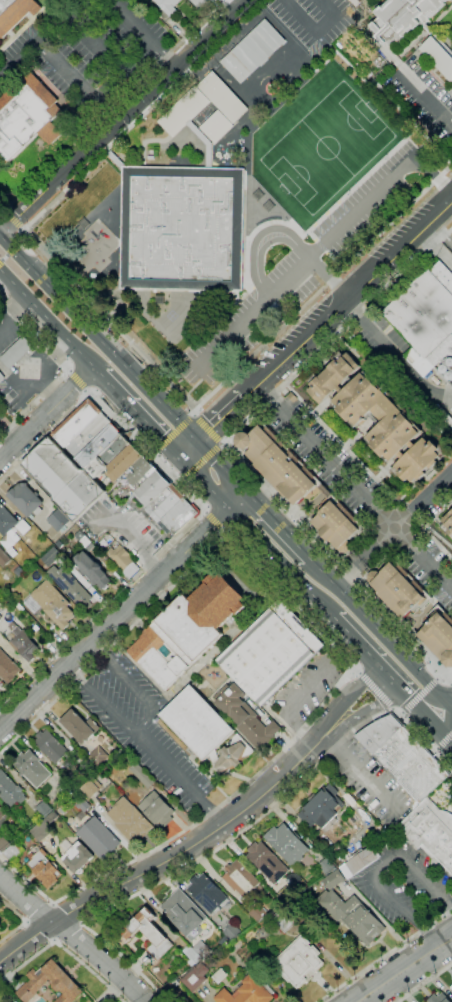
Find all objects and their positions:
building: (360, 0)
building: (201, 3)
building: (167, 6)
building: (15, 13)
street lamp: (306, 13)
street lamp: (275, 15)
building: (401, 18)
parking lot: (312, 21)
road: (316, 31)
road: (141, 34)
road: (42, 39)
road: (98, 43)
road: (314, 46)
parking lot: (86, 49)
street lamp: (307, 49)
building: (252, 51)
building: (438, 54)
road: (123, 74)
road: (360, 76)
road: (136, 82)
road: (76, 83)
building: (450, 92)
road: (425, 97)
building: (203, 104)
road: (112, 107)
road: (122, 116)
building: (27, 117)
building: (216, 127)
road: (145, 141)
road: (206, 141)
building: (208, 144)
road: (433, 145)
park: (326, 147)
street lamp: (385, 157)
road: (114, 158)
building: (116, 160)
road: (432, 176)
street lamp: (348, 193)
road: (360, 206)
street lamp: (285, 220)
road: (13, 221)
building: (182, 229)
road: (439, 231)
road: (304, 233)
road: (310, 237)
road: (22, 240)
road: (261, 240)
road: (320, 246)
street lamp: (270, 247)
road: (12, 249)
road: (4, 257)
road: (0, 260)
road: (333, 261)
street lamp: (266, 270)
road: (1, 272)
street lamp: (314, 274)
road: (346, 296)
road: (263, 299)
park: (171, 315)
building: (425, 318)
road: (50, 323)
road: (113, 325)
parking lot: (294, 328)
road: (375, 335)
road: (96, 339)
road: (129, 345)
building: (16, 352)
gas station: (16, 352)
road: (208, 358)
road: (238, 363)
road: (67, 368)
building: (1, 378)
road: (76, 384)
building: (292, 397)
road: (191, 411)
road: (46, 414)
road: (140, 416)
building: (376, 416)
road: (218, 418)
road: (119, 421)
building: (441, 421)
building: (77, 422)
road: (206, 429)
road: (8, 433)
road: (174, 433)
building: (88, 435)
road: (44, 437)
traffic signals: (194, 440)
road: (222, 443)
building: (98, 445)
road: (228, 446)
road: (186, 448)
road: (146, 454)
road: (153, 454)
traffic signals: (179, 456)
road: (201, 459)
building: (124, 462)
building: (276, 464)
road: (219, 467)
building: (139, 472)
building: (72, 474)
road: (179, 481)
road: (205, 482)
building: (316, 482)
road: (353, 484)
building: (153, 487)
building: (25, 499)
building: (160, 500)
road: (238, 502)
building: (168, 505)
building: (173, 514)
building: (6, 521)
building: (57, 521)
building: (181, 521)
building: (447, 523)
road: (215, 524)
road: (277, 526)
building: (336, 526)
building: (22, 527)
road: (392, 530)
building: (84, 540)
building: (7, 541)
building: (3, 558)
building: (49, 558)
building: (123, 560)
building: (359, 562)
road: (282, 564)
building: (91, 570)
building: (69, 586)
building: (398, 588)
building: (52, 609)
road: (102, 609)
building: (0, 617)
road: (115, 620)
building: (186, 630)
road: (379, 633)
building: (439, 635)
building: (22, 642)
road: (340, 651)
building: (270, 652)
road: (370, 656)
road: (391, 663)
building: (7, 668)
road: (356, 668)
road: (440, 676)
building: (0, 684)
road: (375, 689)
road: (420, 696)
road: (349, 700)
road: (451, 707)
road: (420, 708)
traffic signals: (450, 708)
road: (451, 708)
road: (393, 710)
road: (403, 714)
road: (363, 716)
building: (246, 717)
road: (141, 722)
traffic signals: (433, 722)
road: (448, 722)
building: (197, 723)
building: (79, 726)
road: (442, 732)
road: (445, 741)
building: (50, 746)
road: (439, 752)
building: (233, 754)
building: (98, 756)
building: (403, 757)
building: (88, 767)
building: (31, 768)
road: (358, 774)
building: (142, 775)
road: (178, 778)
building: (10, 790)
building: (55, 801)
building: (321, 807)
building: (44, 808)
building: (157, 810)
building: (3, 819)
building: (130, 823)
building: (42, 827)
building: (430, 832)
road: (233, 837)
building: (99, 838)
building: (3, 843)
building: (286, 844)
building: (14, 851)
building: (77, 857)
road: (166, 857)
building: (266, 862)
building: (360, 862)
building: (44, 868)
building: (240, 879)
building: (333, 880)
road: (425, 885)
building: (207, 894)
road: (392, 899)
road: (37, 912)
building: (256, 912)
road: (67, 913)
building: (184, 913)
building: (352, 915)
road: (22, 921)
building: (285, 922)
road: (39, 930)
road: (68, 931)
building: (231, 931)
building: (148, 933)
road: (73, 936)
road: (446, 941)
road: (64, 944)
building: (202, 950)
building: (191, 955)
road: (384, 955)
building: (298, 961)
road: (398, 973)
building: (219, 976)
building: (195, 977)
building: (63, 981)
road: (423, 981)
building: (451, 988)
building: (172, 991)
building: (248, 992)
building: (439, 998)
building: (11, 1001)
building: (16, 1001)

